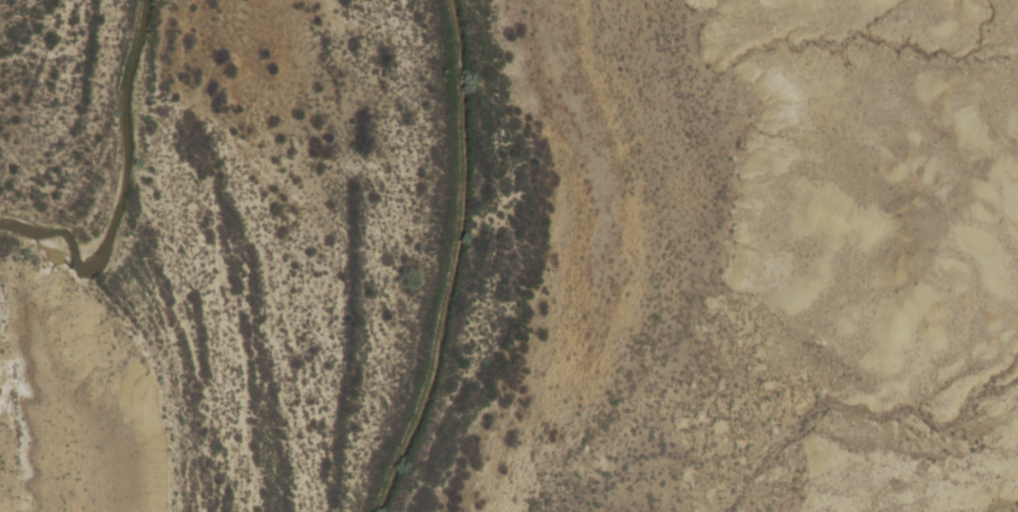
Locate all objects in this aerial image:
river: (133, 192)
river: (452, 257)

